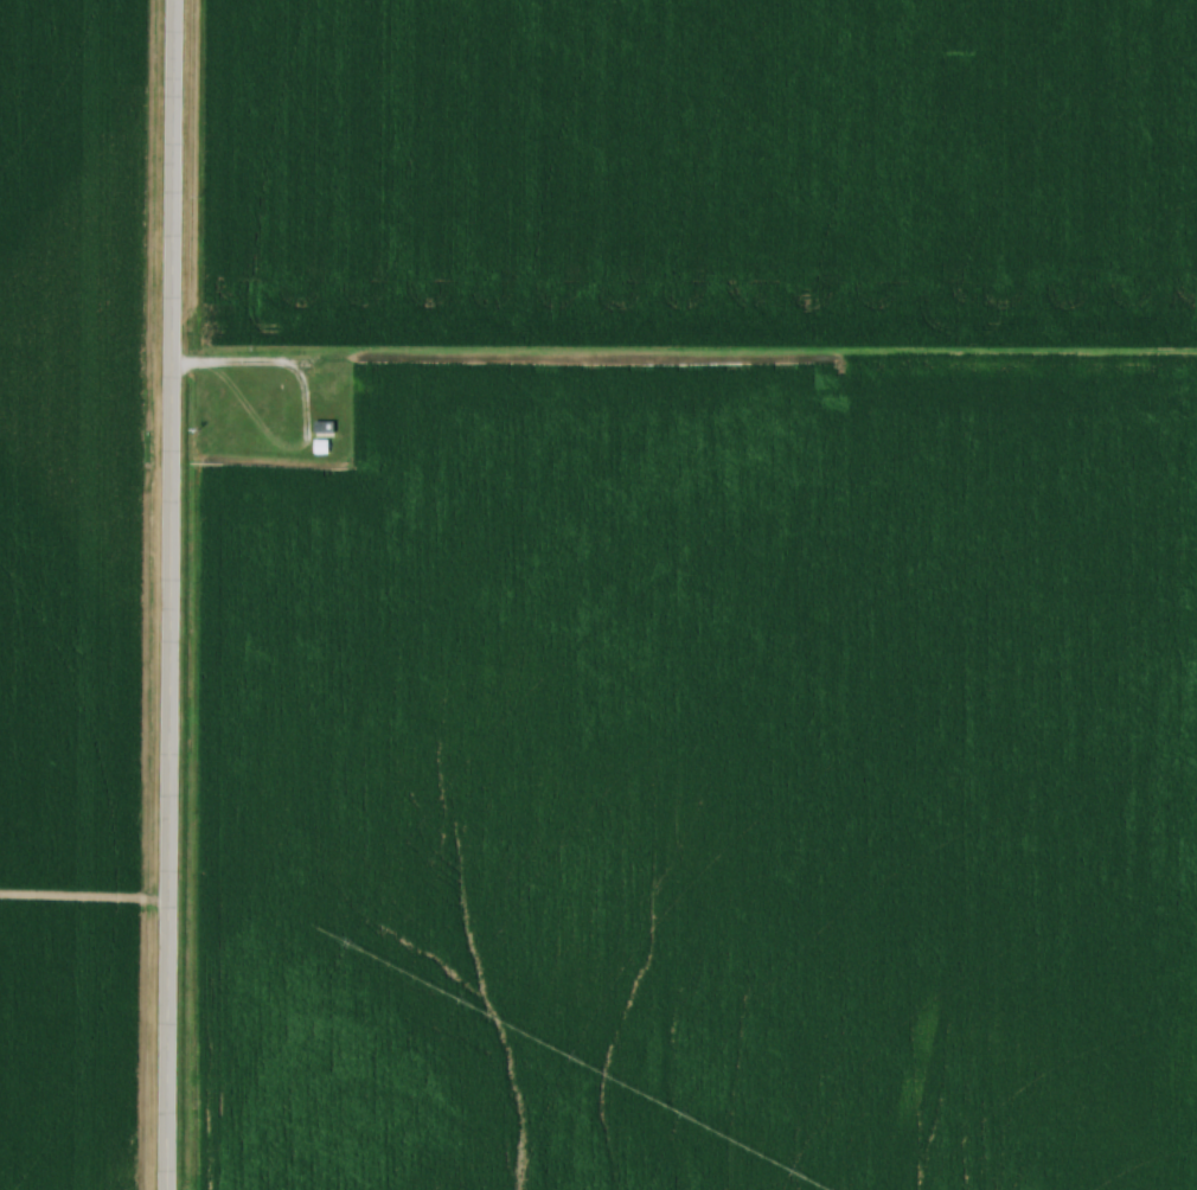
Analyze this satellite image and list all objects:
building: (328, 429)
road: (164, 594)

